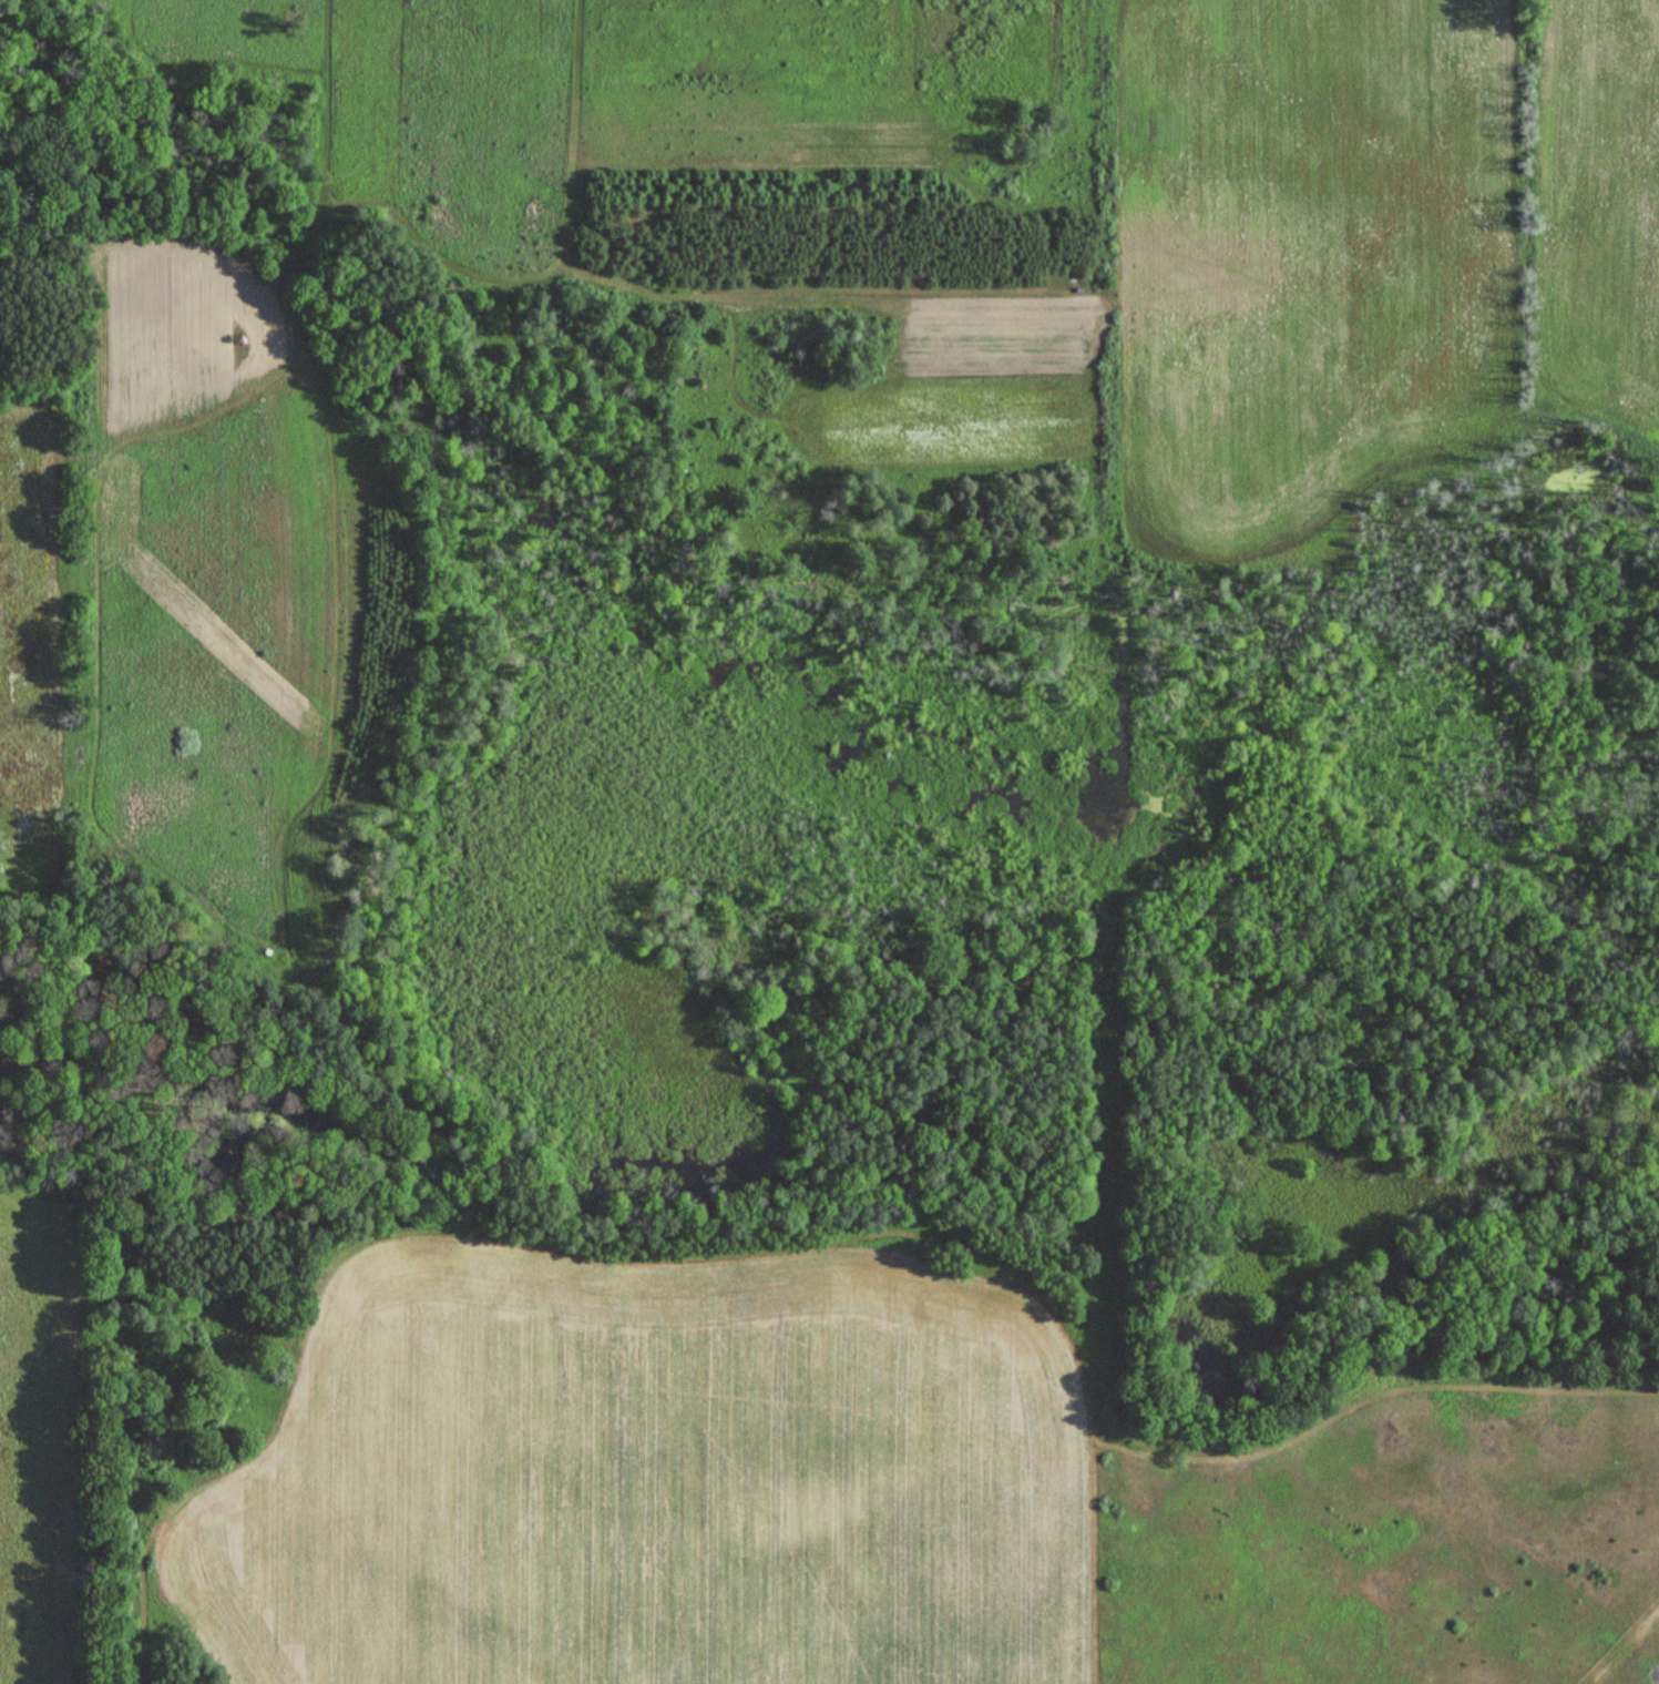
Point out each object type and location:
road: (146, 1263)

